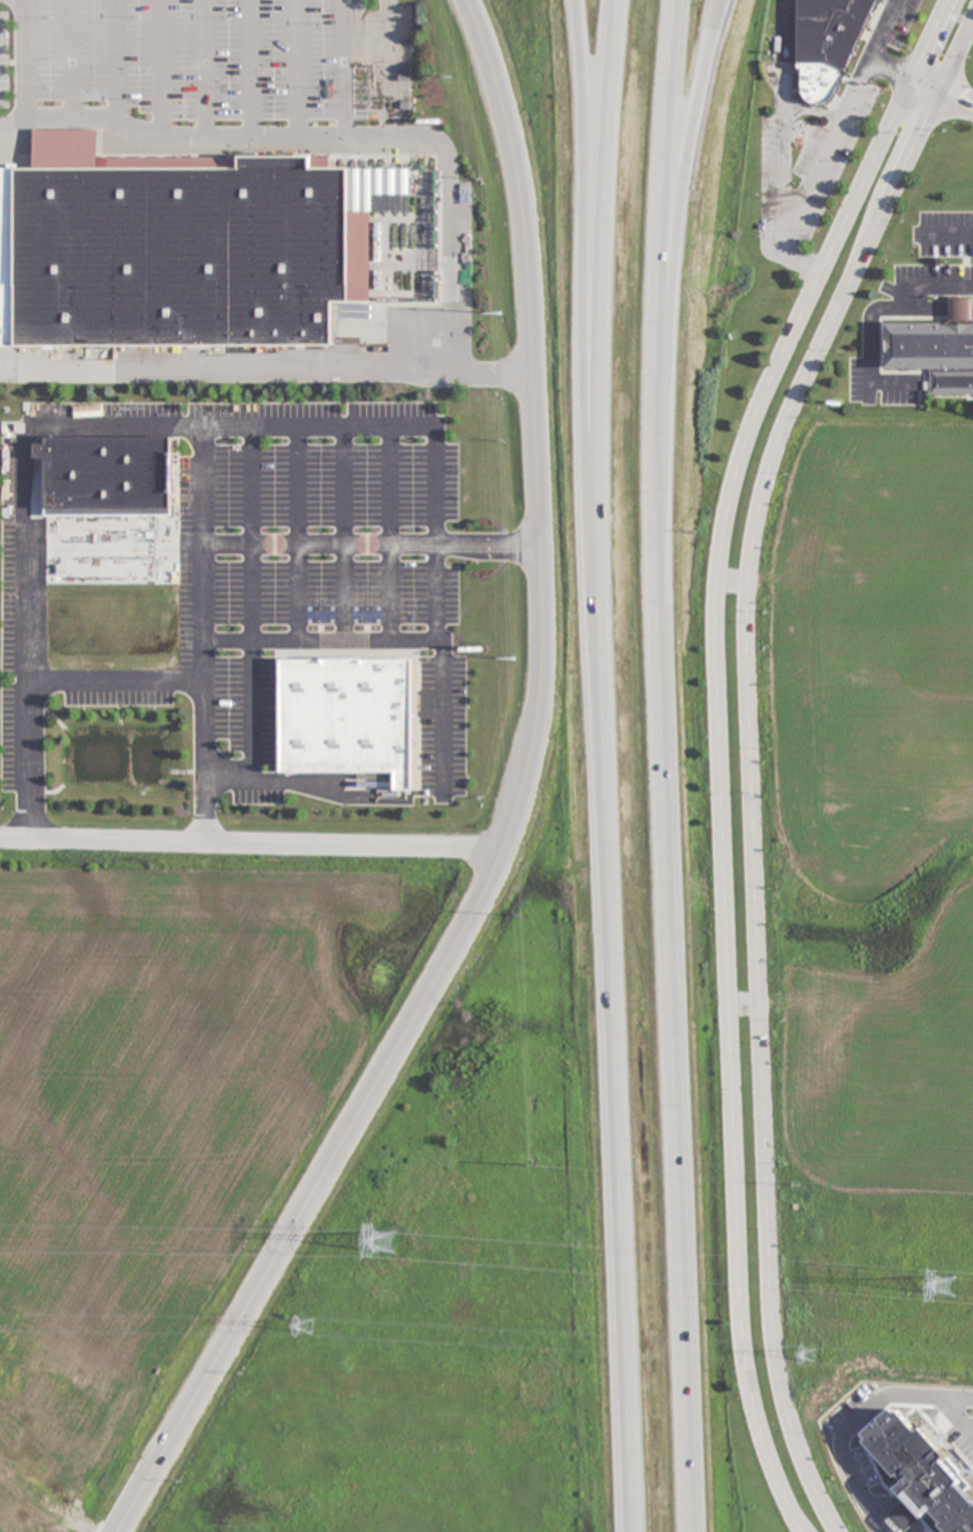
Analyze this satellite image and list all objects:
building: (836, 38)
road: (892, 66)
road: (24, 70)
traffic signals: (910, 77)
traffic signals: (938, 91)
road: (941, 92)
road: (832, 145)
road: (683, 197)
road: (661, 199)
road: (946, 234)
building: (169, 246)
road: (585, 270)
road: (606, 270)
road: (872, 312)
building: (937, 349)
road: (266, 362)
street lamp: (48, 400)
street lamp: (130, 401)
street lamp: (228, 440)
street lamp: (412, 440)
street lamp: (320, 441)
street lamp: (1, 447)
building: (108, 471)
street lamp: (227, 529)
street lamp: (320, 529)
street lamp: (413, 530)
street lamp: (1, 542)
street lamp: (477, 562)
parking lot: (257, 582)
street lamp: (413, 626)
street lamp: (375, 627)
street lamp: (1, 628)
street lamp: (229, 628)
street lamp: (313, 628)
street lamp: (467, 706)
street lamp: (155, 707)
street lamp: (85, 708)
street lamp: (229, 713)
street lamp: (2, 714)
building: (348, 716)
road: (720, 748)
road: (751, 755)
street lamp: (2, 775)
street lamp: (468, 776)
street lamp: (316, 810)
street lamp: (219, 811)
road: (516, 812)
road: (257, 843)
crop: (870, 889)
road: (679, 965)
road: (615, 1036)
power tower: (388, 1242)
power tower: (944, 1287)
power tower: (307, 1325)
power tower: (808, 1353)
building: (915, 1472)
crop: (765, 1521)

